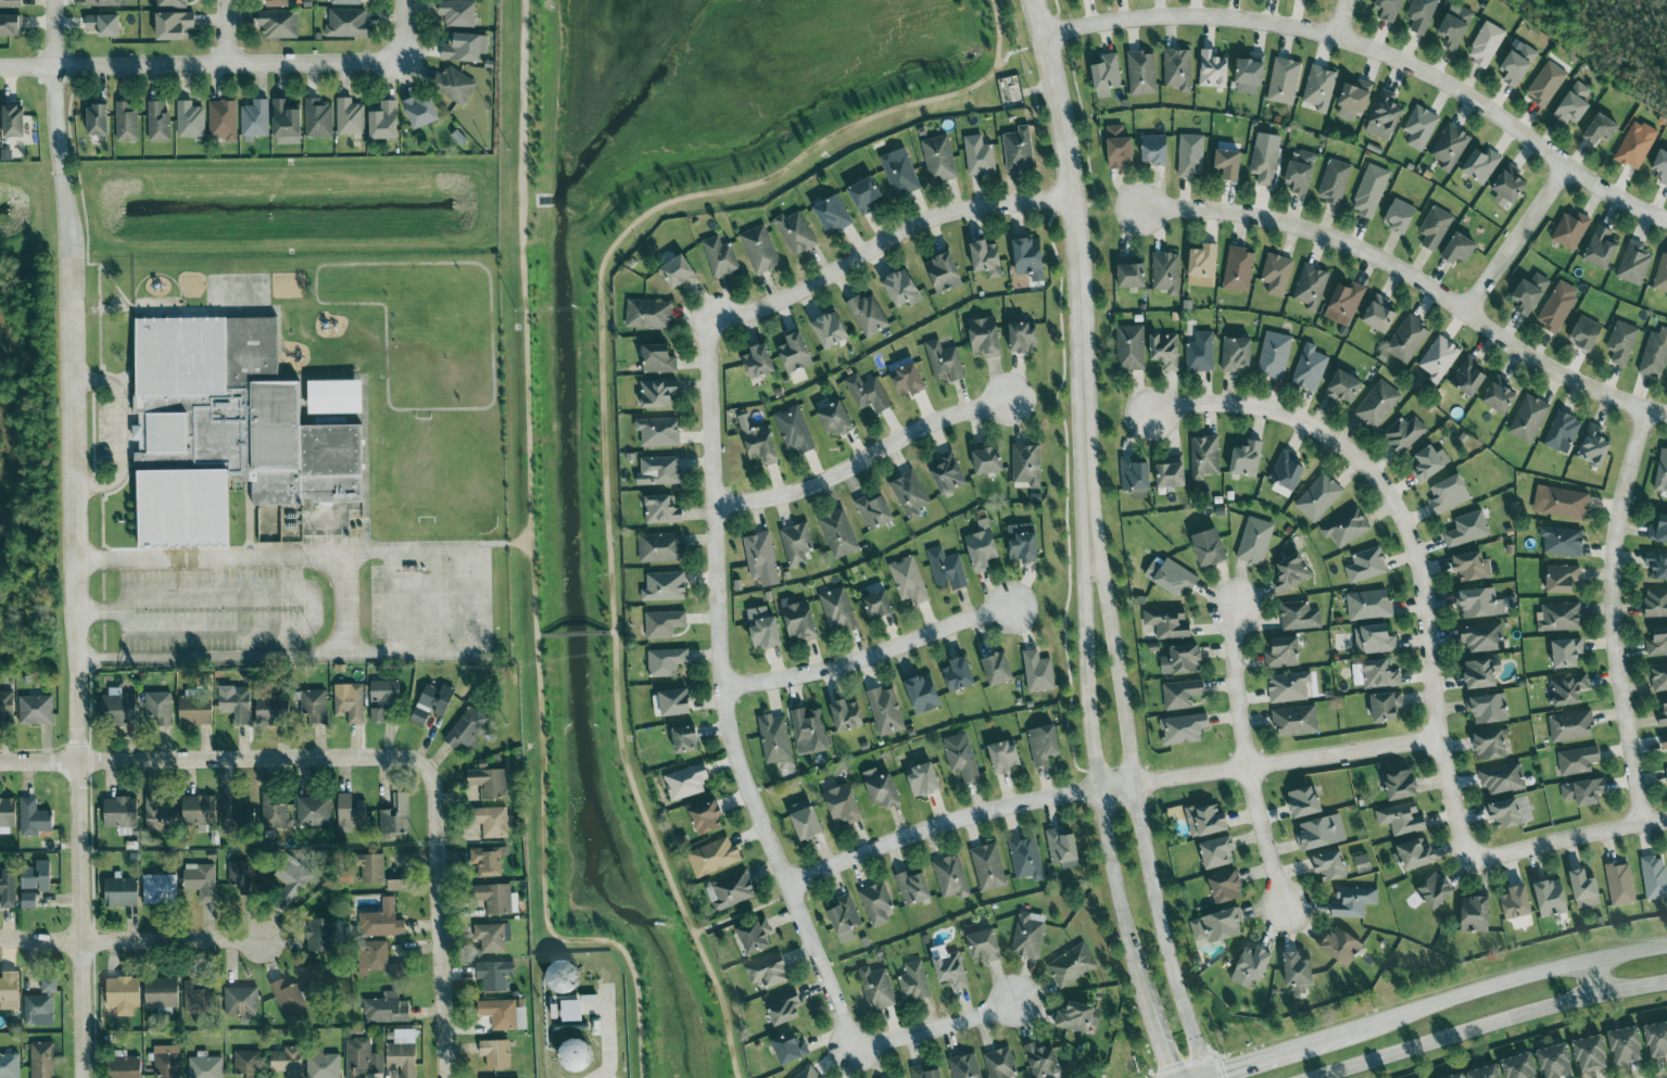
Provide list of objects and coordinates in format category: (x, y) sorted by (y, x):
building: (346, 2)
building: (10, 3)
building: (106, 3)
building: (172, 3)
building: (278, 3)
building: (1390, 10)
building: (457, 13)
building: (1422, 14)
road: (1340, 18)
building: (278, 24)
building: (346, 24)
building: (104, 25)
building: (10, 26)
building: (174, 26)
building: (1455, 27)
road: (404, 30)
road: (225, 33)
building: (1486, 45)
building: (465, 48)
road: (1378, 50)
road: (1019, 52)
building: (1518, 63)
road: (229, 64)
road: (27, 67)
building: (1178, 69)
building: (1213, 71)
building: (1141, 74)
building: (1250, 75)
building: (1106, 76)
building: (1284, 81)
building: (453, 85)
building: (1545, 85)
building: (1319, 88)
building: (1354, 100)
building: (1574, 105)
building: (421, 112)
building: (1385, 116)
building: (350, 117)
building: (255, 119)
building: (318, 119)
building: (98, 121)
building: (190, 121)
building: (223, 121)
building: (13, 122)
building: (384, 122)
building: (126, 123)
building: (157, 123)
building: (287, 124)
building: (1419, 127)
building: (1603, 130)
building: (1636, 145)
building: (1450, 147)
building: (1119, 149)
building: (1019, 150)
building: (1155, 150)
building: (978, 156)
building: (1191, 156)
building: (938, 160)
building: (1658, 163)
building: (1229, 164)
building: (1264, 164)
building: (1481, 166)
building: (1302, 173)
building: (900, 175)
building: (1335, 181)
building: (1508, 187)
building: (1371, 191)
building: (866, 195)
building: (833, 215)
building: (1401, 216)
building: (1435, 228)
building: (1573, 229)
building: (796, 233)
road: (1520, 237)
road: (885, 240)
building: (1601, 248)
building: (1460, 249)
building: (759, 250)
building: (720, 257)
building: (1030, 258)
building: (986, 259)
building: (1633, 264)
road: (1079, 266)
building: (1203, 266)
building: (1238, 270)
building: (679, 272)
building: (1132, 272)
building: (1166, 272)
road: (1416, 272)
building: (944, 274)
building: (1277, 275)
building: (1660, 275)
building: (1311, 287)
building: (902, 289)
building: (1530, 294)
building: (1344, 303)
building: (1557, 307)
building: (648, 315)
building: (868, 315)
building: (1379, 315)
building: (831, 331)
building: (1587, 333)
building: (985, 337)
building: (1023, 339)
building: (1407, 340)
building: (1621, 342)
building: (1131, 348)
building: (1165, 351)
building: (1200, 353)
building: (795, 354)
building: (1236, 354)
building: (1654, 354)
building: (1274, 355)
building: (658, 359)
building: (1439, 359)
building: (759, 363)
building: (944, 363)
building: (1309, 368)
building: (1469, 377)
building: (909, 380)
building: (1343, 388)
building: (868, 393)
building: (658, 394)
building: (1500, 395)
building: (1377, 405)
park: (559, 406)
road: (605, 419)
building: (837, 419)
building: (1528, 419)
building: (232, 429)
building: (794, 430)
building: (658, 432)
building: (1562, 432)
road: (118, 433)
building: (1404, 434)
building: (761, 445)
building: (1593, 445)
building: (1204, 457)
building: (1247, 459)
building: (988, 460)
building: (1430, 462)
road: (860, 464)
building: (1027, 466)
building: (659, 471)
building: (1662, 471)
building: (948, 473)
building: (1172, 473)
building: (1135, 474)
building: (1287, 475)
building: (1450, 493)
building: (910, 495)
building: (1318, 497)
building: (1561, 502)
building: (662, 510)
building: (874, 512)
building: (1347, 527)
building: (1467, 529)
building: (1659, 529)
building: (838, 534)
road: (74, 537)
building: (1255, 541)
building: (1562, 541)
building: (1024, 542)
building: (797, 543)
road: (501, 544)
building: (982, 546)
building: (1211, 546)
building: (660, 547)
building: (759, 553)
road: (1418, 554)
building: (1366, 565)
building: (1472, 566)
building: (1658, 567)
building: (946, 569)
road: (535, 570)
building: (1291, 572)
building: (1172, 575)
building: (1563, 579)
building: (909, 580)
building: (665, 586)
road: (475, 597)
building: (1479, 603)
building: (877, 604)
building: (1652, 604)
building: (1369, 605)
road: (350, 606)
building: (837, 609)
road: (1617, 613)
building: (1300, 616)
building: (1559, 617)
building: (799, 620)
building: (1169, 622)
building: (664, 623)
road: (305, 629)
building: (766, 633)
road: (578, 634)
building: (1482, 637)
building: (1375, 638)
building: (1656, 643)
building: (1159, 647)
road: (871, 649)
building: (1567, 651)
building: (1284, 652)
building: (1183, 658)
building: (667, 661)
building: (998, 669)
building: (1038, 671)
building: (1481, 673)
building: (959, 674)
building: (1379, 674)
building: (1658, 674)
building: (1289, 686)
building: (1568, 688)
building: (384, 692)
building: (923, 693)
building: (1183, 693)
road: (734, 694)
building: (675, 701)
building: (235, 702)
building: (349, 702)
building: (432, 702)
building: (1663, 702)
building: (7, 705)
building: (313, 706)
building: (118, 707)
building: (159, 707)
building: (1387, 707)
building: (1488, 708)
building: (35, 709)
building: (270, 709)
building: (195, 710)
building: (885, 711)
building: (377, 714)
building: (847, 714)
building: (1296, 720)
building: (1658, 720)
building: (1570, 725)
building: (467, 728)
building: (1183, 728)
building: (809, 731)
building: (774, 738)
building: (685, 739)
building: (1662, 740)
building: (1044, 744)
building: (1491, 745)
building: (961, 756)
building: (1005, 757)
road: (190, 759)
road: (1251, 760)
building: (1578, 760)
building: (1666, 770)
road: (1108, 772)
building: (924, 778)
building: (1502, 778)
building: (490, 782)
building: (686, 782)
building: (1401, 784)
building: (882, 788)
building: (1583, 791)
road: (1117, 794)
building: (1304, 801)
building: (843, 804)
road: (1140, 808)
building: (199, 810)
building: (235, 811)
building: (314, 811)
building: (119, 812)
building: (351, 812)
building: (274, 813)
building: (1506, 813)
building: (7, 815)
building: (159, 816)
building: (395, 816)
building: (706, 816)
building: (33, 817)
building: (1402, 819)
building: (1207, 820)
building: (806, 821)
building: (493, 822)
building: (1322, 832)
road: (1569, 841)
building: (1063, 849)
building: (1218, 852)
building: (1414, 855)
building: (712, 857)
building: (1025, 858)
building: (1363, 859)
building: (488, 860)
building: (1330, 864)
building: (988, 867)
building: (372, 868)
building: (37, 876)
building: (241, 876)
building: (951, 876)
building: (1654, 877)
building: (201, 880)
building: (290, 882)
building: (395, 883)
building: (1619, 884)
building: (913, 886)
building: (1226, 887)
building: (8, 888)
building: (1584, 888)
building: (159, 889)
building: (731, 890)
building: (1436, 890)
building: (121, 891)
road: (442, 895)
building: (496, 898)
building: (1551, 898)
building: (28, 900)
building: (1353, 901)
building: (1517, 902)
building: (876, 903)
road: (749, 914)
building: (1476, 914)
building: (845, 918)
building: (382, 921)
building: (1217, 925)
building: (320, 935)
building: (1028, 935)
building: (756, 936)
building: (492, 937)
road: (130, 941)
building: (983, 943)
building: (1342, 946)
building: (376, 959)
building: (1072, 965)
building: (949, 966)
building: (1252, 966)
building: (768, 971)
building: (1298, 972)
road: (1593, 974)
building: (494, 975)
building: (563, 975)
road: (1518, 977)
building: (913, 981)
building: (876, 988)
building: (9, 990)
building: (123, 992)
building: (162, 992)
building: (288, 995)
building: (193, 997)
building: (241, 1002)
building: (40, 1004)
building: (784, 1007)
building: (386, 1009)
building: (503, 1014)
building: (1078, 1017)
road: (1493, 1024)
road: (936, 1026)
road: (606, 1036)
building: (1656, 1039)
road: (1160, 1040)
building: (1627, 1044)
building: (790, 1048)
road: (1285, 1050)
traffic signals: (1163, 1052)
building: (495, 1053)
building: (577, 1054)
building: (1591, 1054)
building: (402, 1056)
building: (362, 1058)
building: (42, 1060)
building: (166, 1061)
building: (288, 1061)
building: (1044, 1062)
building: (1556, 1062)
building: (247, 1064)
building: (1000, 1064)
building: (10, 1065)
building: (124, 1065)
building: (323, 1065)
building: (964, 1066)
building: (1520, 1066)
building: (205, 1067)
traffic signals: (1221, 1070)
building: (1486, 1071)
building: (925, 1073)
building: (809, 1074)
road: (1207, 1076)
building: (1457, 1076)
road: (450, 1077)

